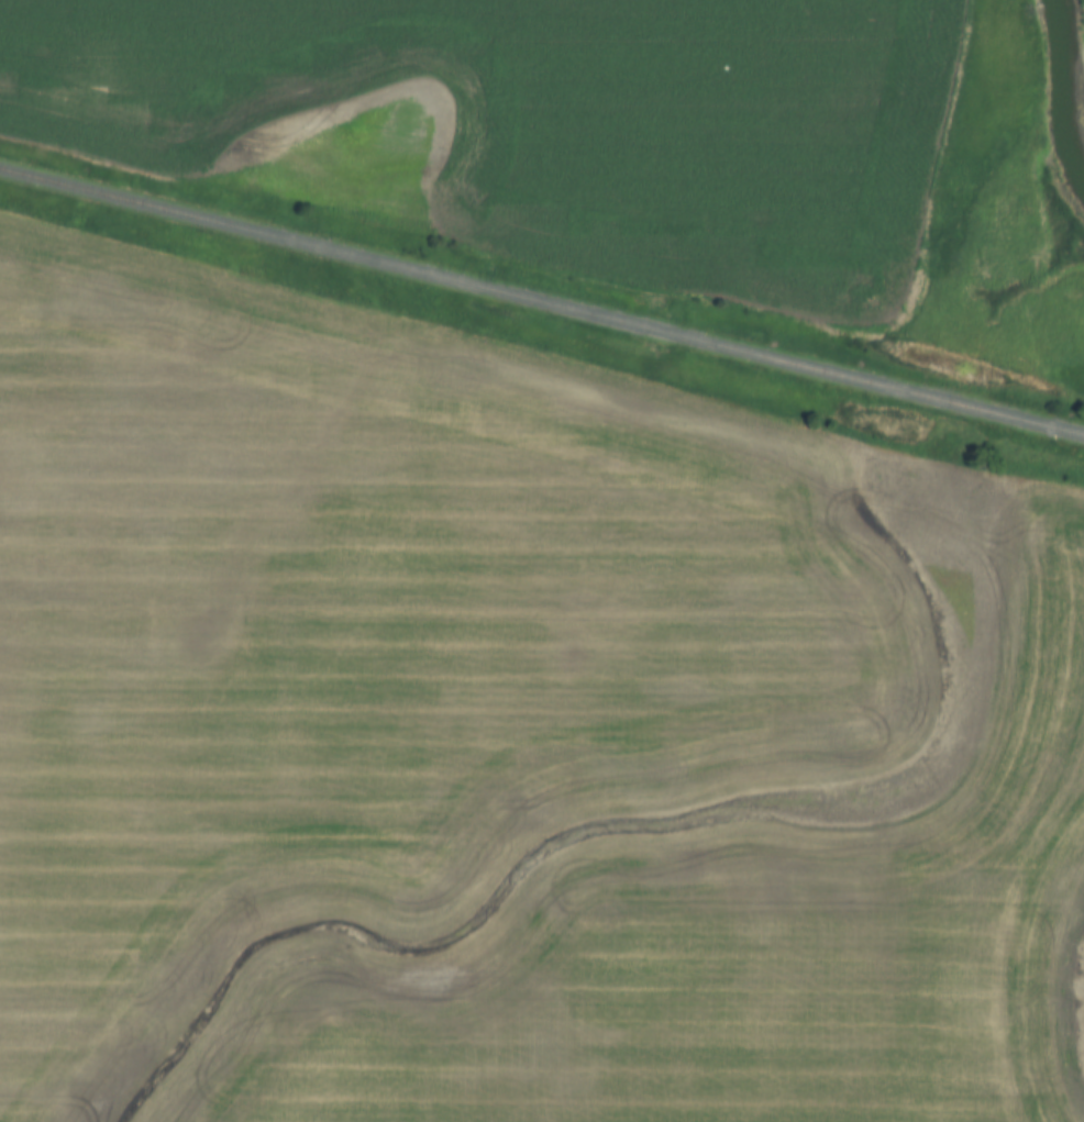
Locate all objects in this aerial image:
railway: (542, 302)

